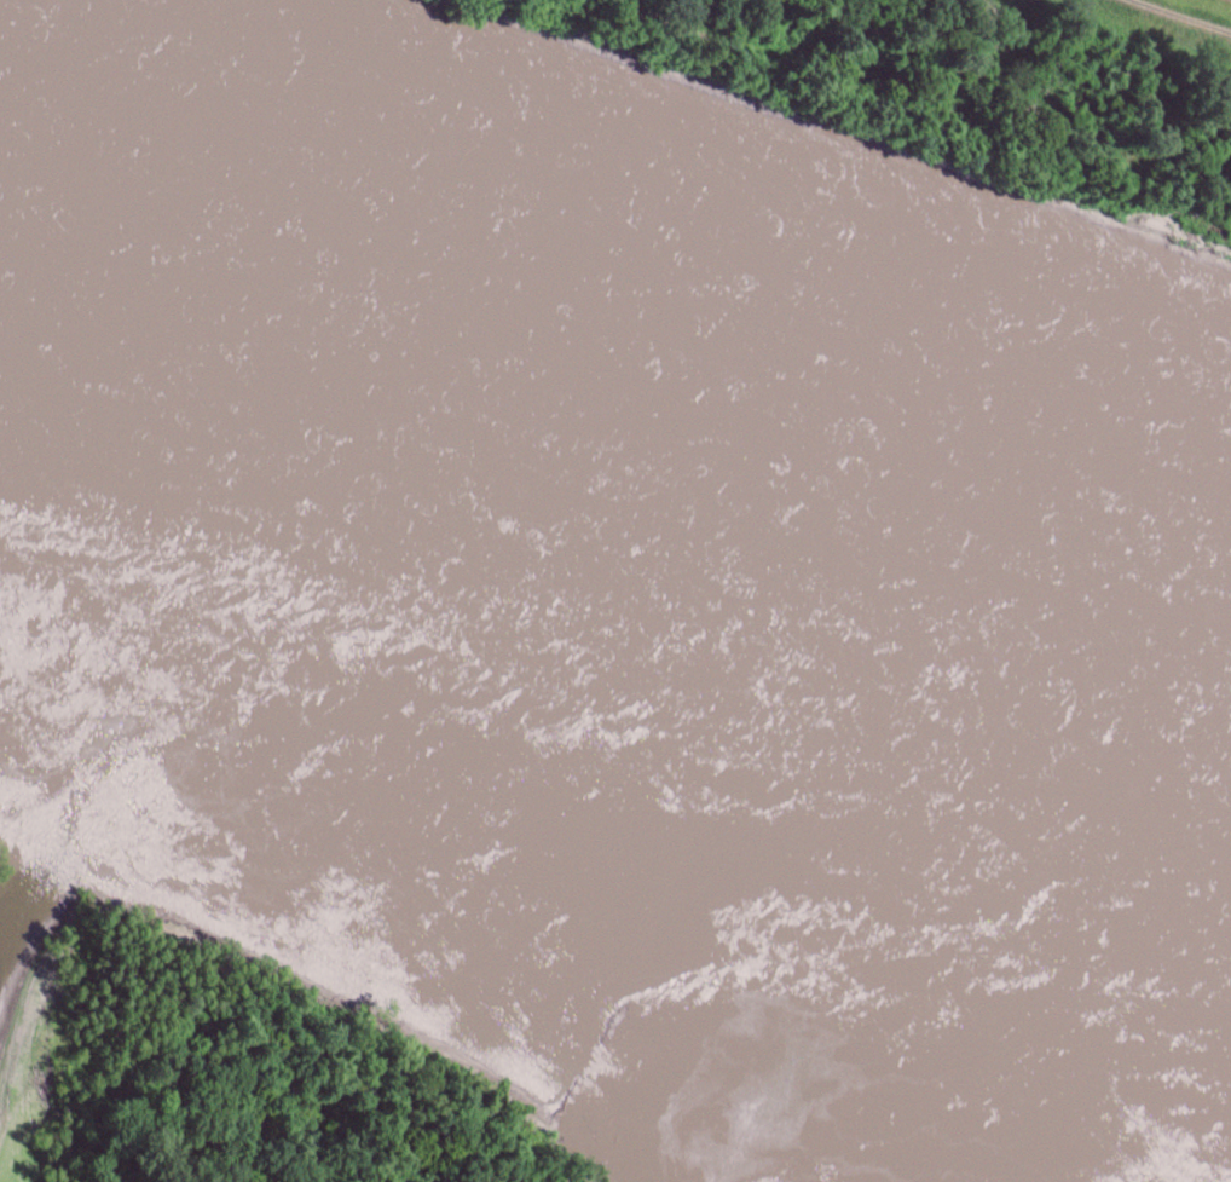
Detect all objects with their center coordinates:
road: (1180, 15)
river: (618, 610)

